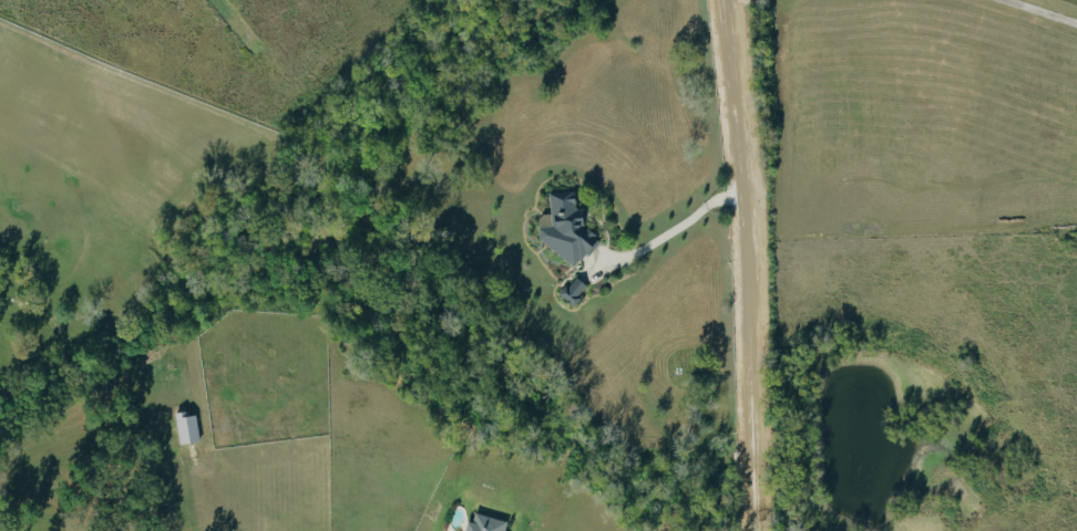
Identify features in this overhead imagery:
road: (1040, 11)
building: (567, 227)
road: (675, 228)
road: (747, 264)
building: (575, 289)
building: (188, 426)
building: (488, 522)

